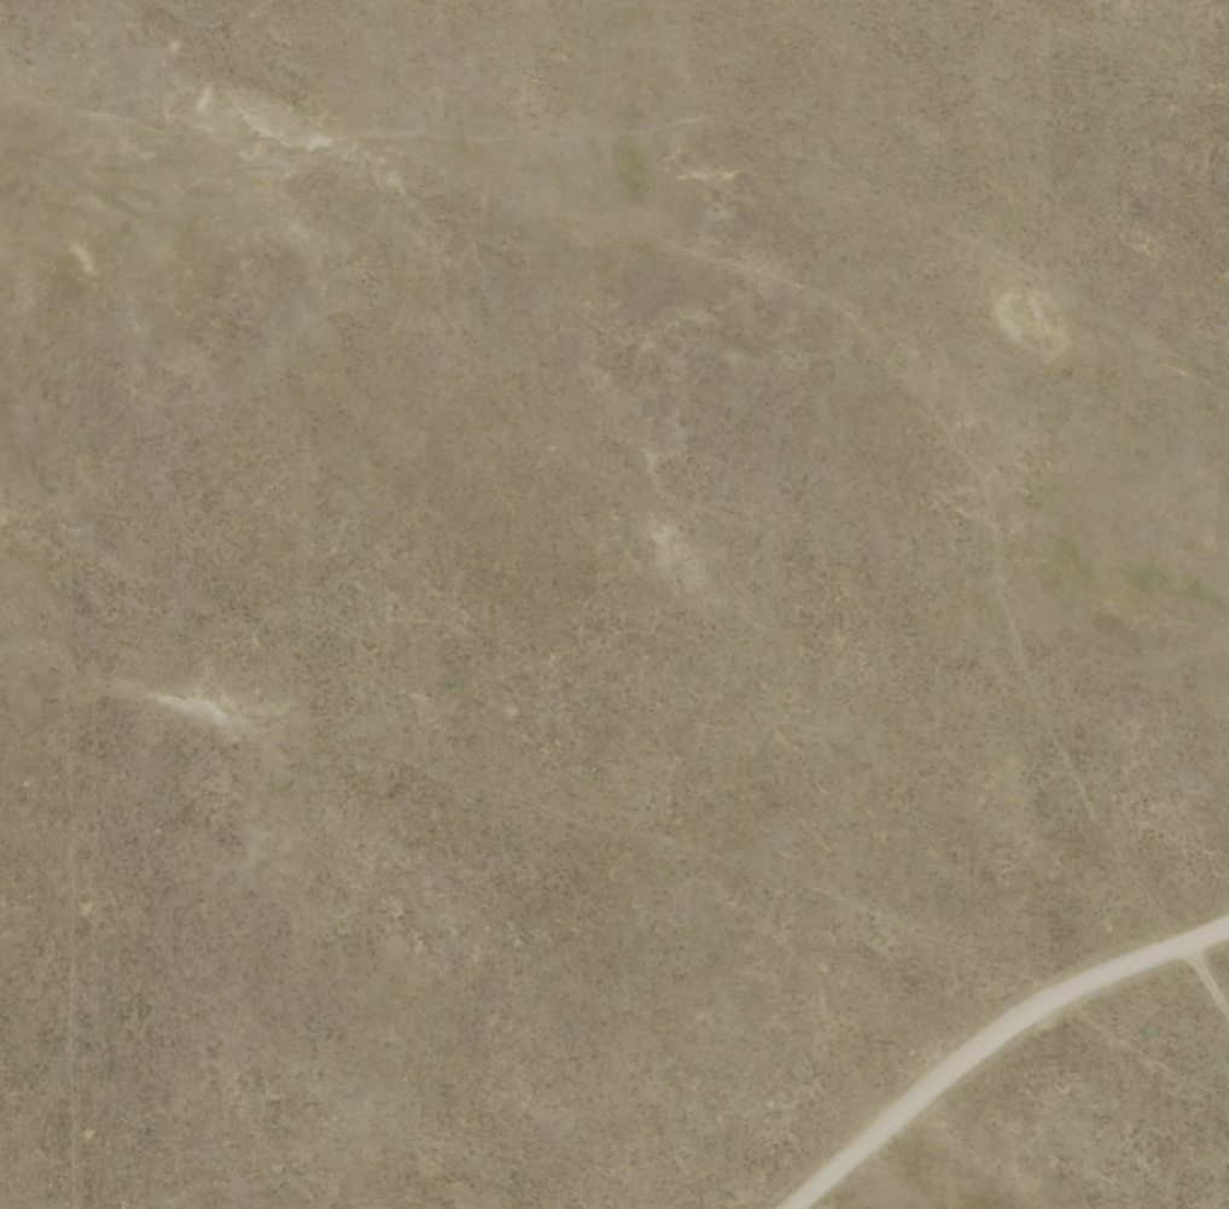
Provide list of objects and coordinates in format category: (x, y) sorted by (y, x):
road: (989, 1036)

